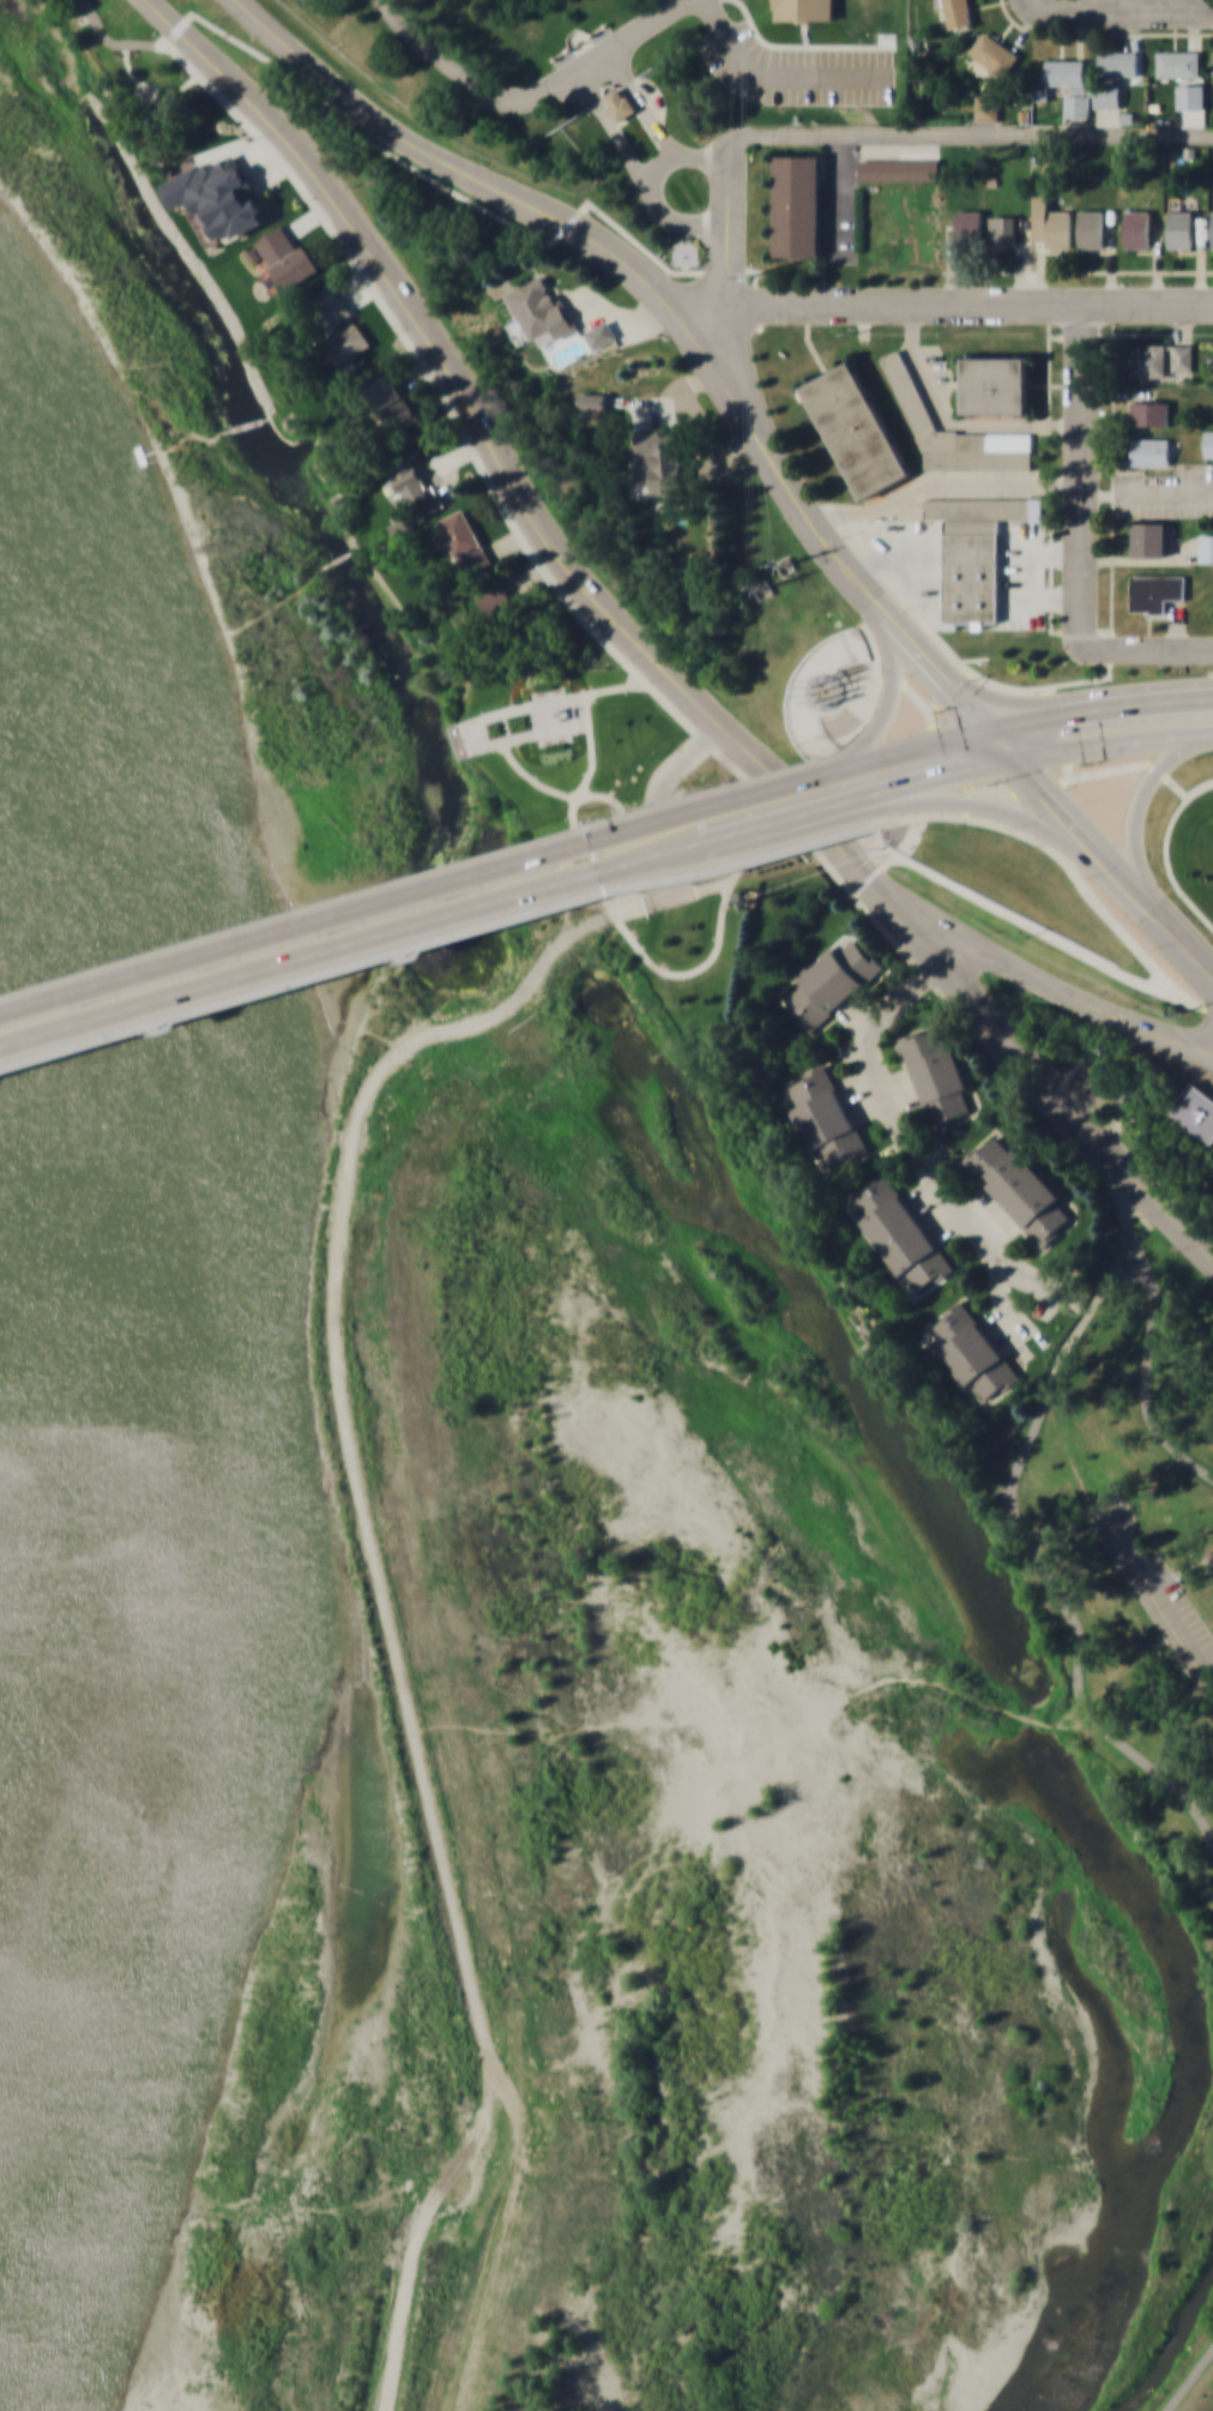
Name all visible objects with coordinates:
road: (1122, 7)
building: (804, 8)
building: (956, 12)
road: (641, 24)
building: (994, 53)
park: (62, 56)
building: (1117, 61)
building: (1177, 61)
building: (1212, 61)
road: (778, 74)
building: (1070, 82)
road: (485, 89)
road: (150, 90)
building: (1106, 94)
building: (618, 102)
building: (985, 108)
road: (653, 121)
road: (962, 132)
building: (899, 168)
building: (219, 194)
building: (796, 204)
building: (968, 222)
building: (1050, 224)
building: (1091, 227)
building: (1136, 227)
building: (1179, 227)
building: (1212, 227)
road: (726, 228)
building: (1002, 229)
building: (283, 257)
power tower: (756, 278)
road: (662, 297)
road: (946, 302)
building: (541, 306)
building: (338, 327)
road: (416, 327)
building: (1181, 356)
building: (1147, 360)
building: (994, 384)
building: (390, 397)
building: (1148, 411)
building: (857, 431)
building: (954, 432)
building: (1208, 441)
building: (1149, 450)
building: (659, 458)
road: (1079, 473)
building: (416, 489)
building: (1148, 537)
building: (461, 539)
building: (1206, 546)
building: (972, 553)
power tower: (787, 566)
power tower: (764, 588)
building: (1155, 591)
building: (1016, 594)
building: (495, 601)
road: (1147, 648)
road: (891, 672)
road: (1043, 699)
road: (1096, 705)
road: (590, 722)
traffic signals: (979, 723)
road: (918, 740)
road: (1110, 740)
road: (831, 753)
traffic signals: (1008, 754)
road: (939, 771)
road: (1178, 783)
road: (559, 794)
road: (1134, 800)
road: (802, 810)
road: (1015, 818)
road: (821, 819)
park: (587, 837)
power tower: (879, 847)
road: (1096, 850)
road: (828, 871)
road: (429, 891)
power tower: (748, 898)
road: (615, 915)
road: (367, 943)
road: (416, 951)
road: (941, 964)
road: (1152, 968)
building: (832, 982)
road: (1075, 1000)
road: (1190, 1002)
building: (936, 1074)
building: (826, 1113)
road: (891, 1113)
building: (1195, 1113)
building: (1016, 1185)
road: (1135, 1195)
building: (899, 1229)
building: (971, 1349)
road: (1146, 1369)
building: (1212, 1553)
road: (1161, 1610)
parking lot: (1178, 1612)
park: (1088, 1613)
road: (1190, 2380)

